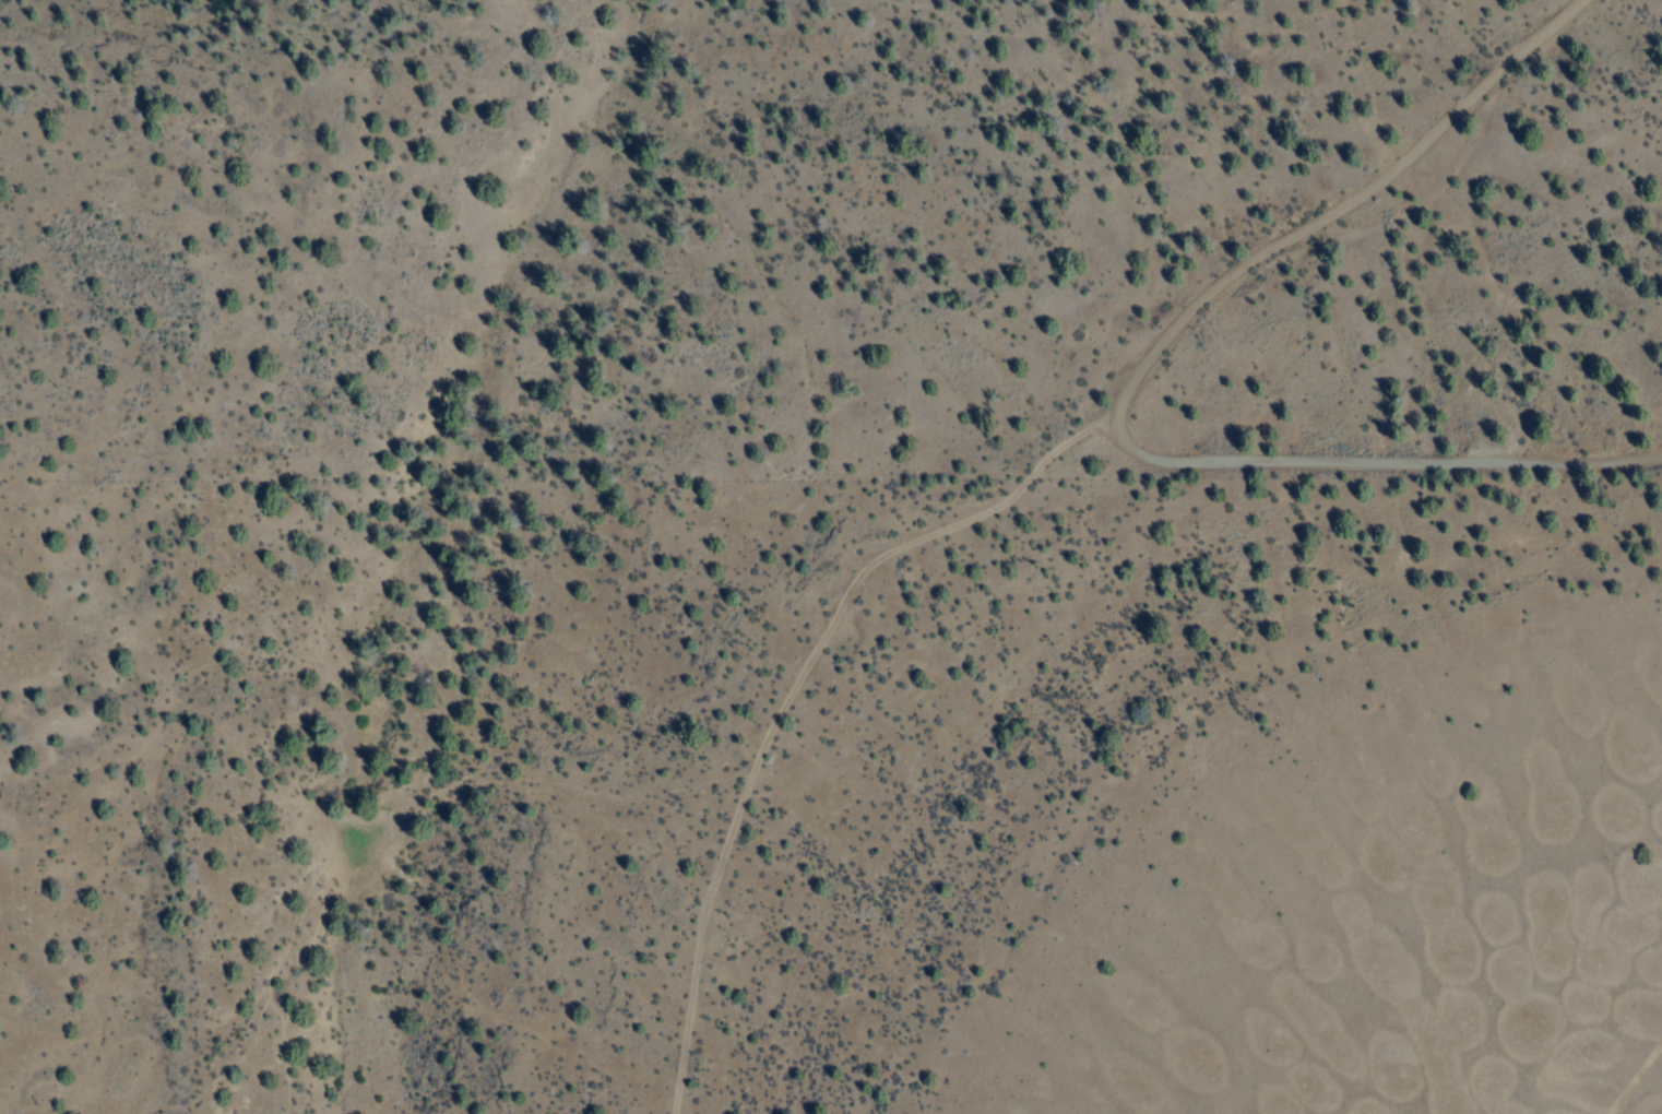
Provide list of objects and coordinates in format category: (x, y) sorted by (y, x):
road: (1128, 384)

